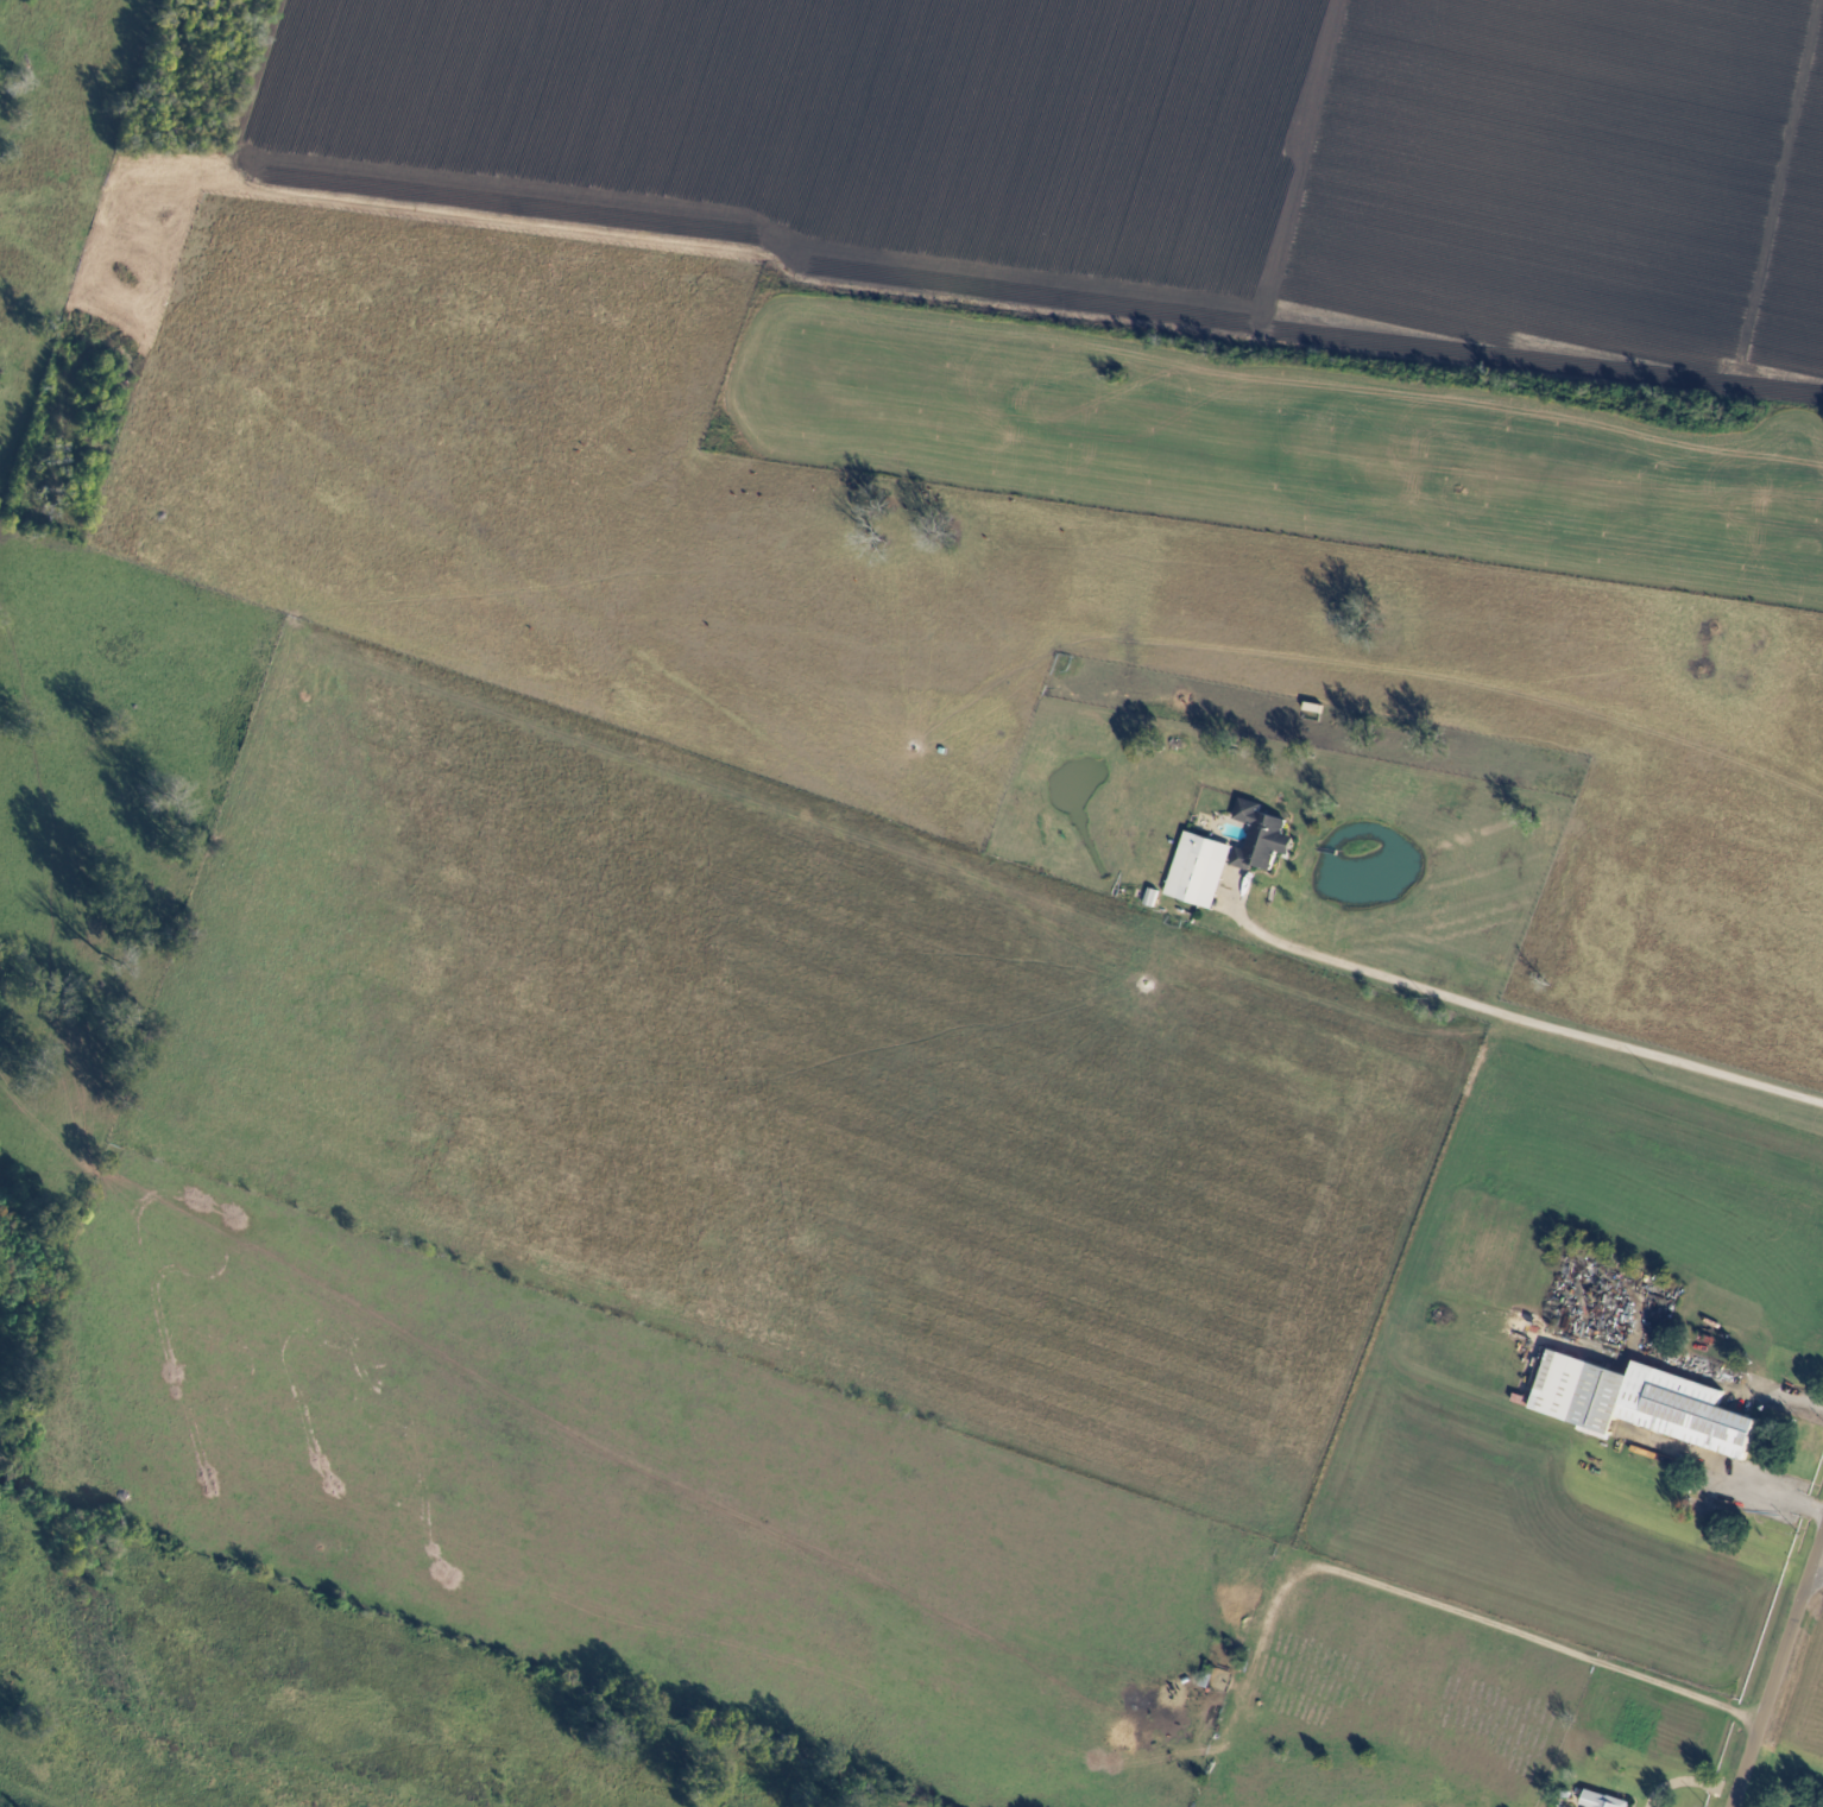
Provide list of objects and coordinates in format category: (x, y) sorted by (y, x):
building: (1262, 834)
building: (1194, 866)
road: (1528, 1019)
road: (1752, 1384)
building: (1642, 1402)
road: (1771, 1500)
road: (1819, 1552)
road: (1819, 1560)
road: (1464, 1611)
building: (1207, 1674)
road: (1775, 1682)
building: (1606, 1799)

